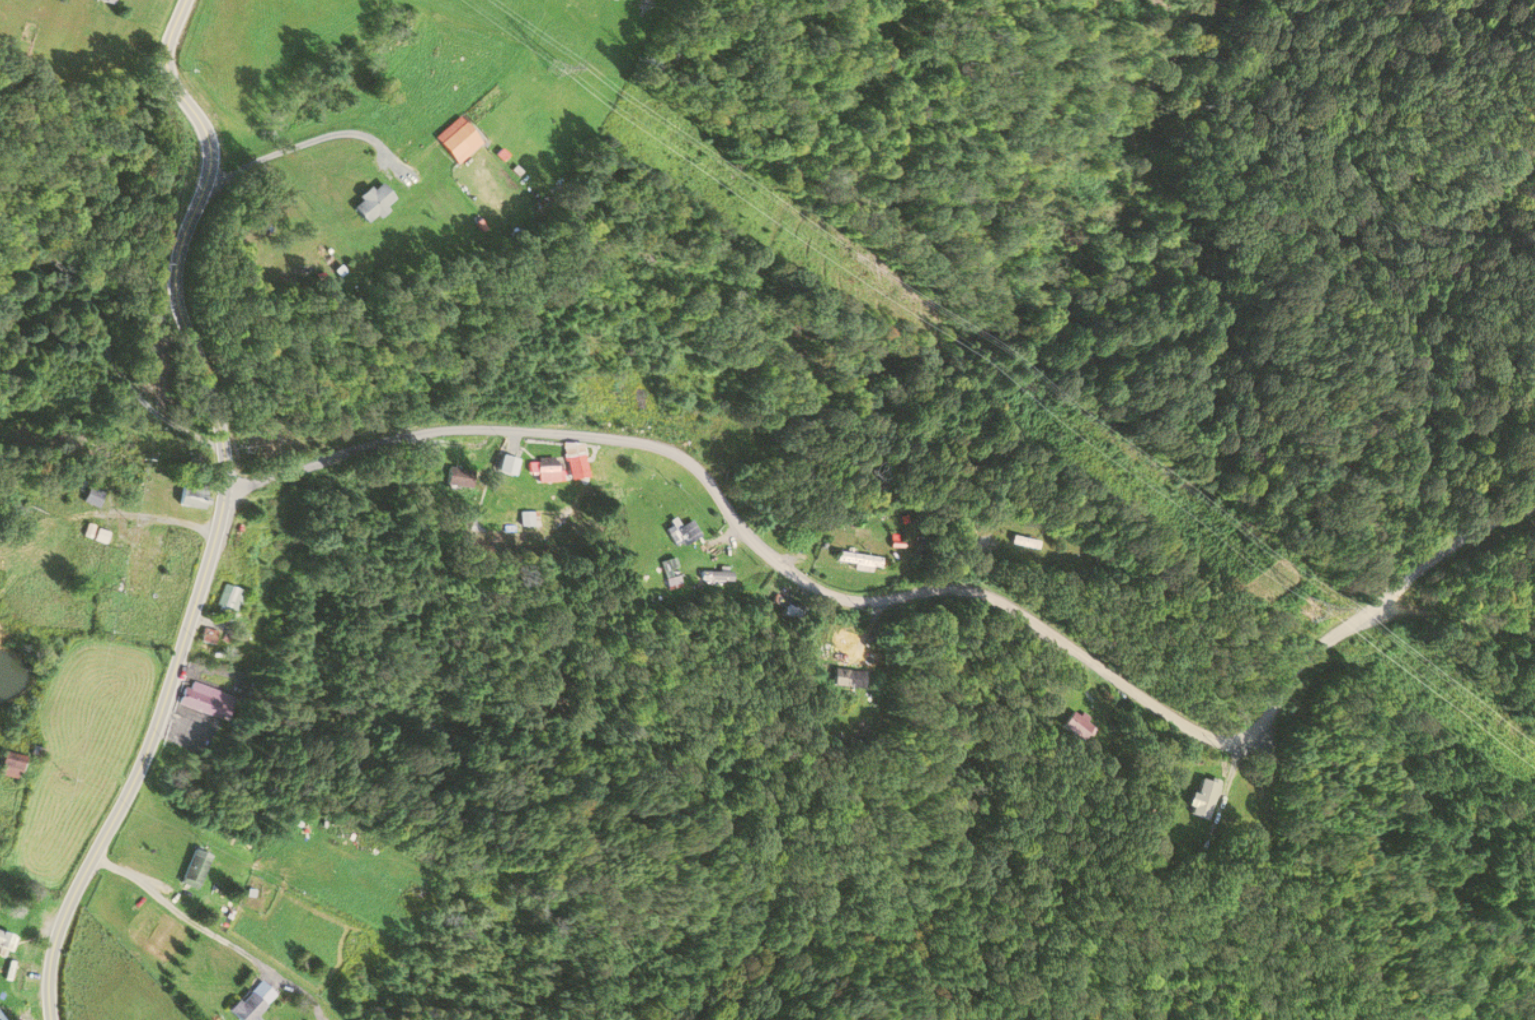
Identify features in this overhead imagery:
building: (109, 2)
power tower: (554, 60)
building: (457, 139)
building: (373, 202)
building: (576, 461)
building: (511, 465)
building: (547, 469)
building: (461, 477)
building: (194, 495)
road: (221, 511)
building: (529, 519)
building: (101, 531)
building: (681, 533)
building: (1020, 542)
building: (145, 567)
building: (710, 577)
road: (912, 598)
building: (229, 599)
power tower: (1298, 609)
building: (208, 635)
building: (837, 679)
building: (205, 700)
building: (1071, 726)
building: (12, 766)
building: (0, 791)
building: (1196, 800)
building: (194, 869)
building: (6, 941)
building: (248, 1006)

